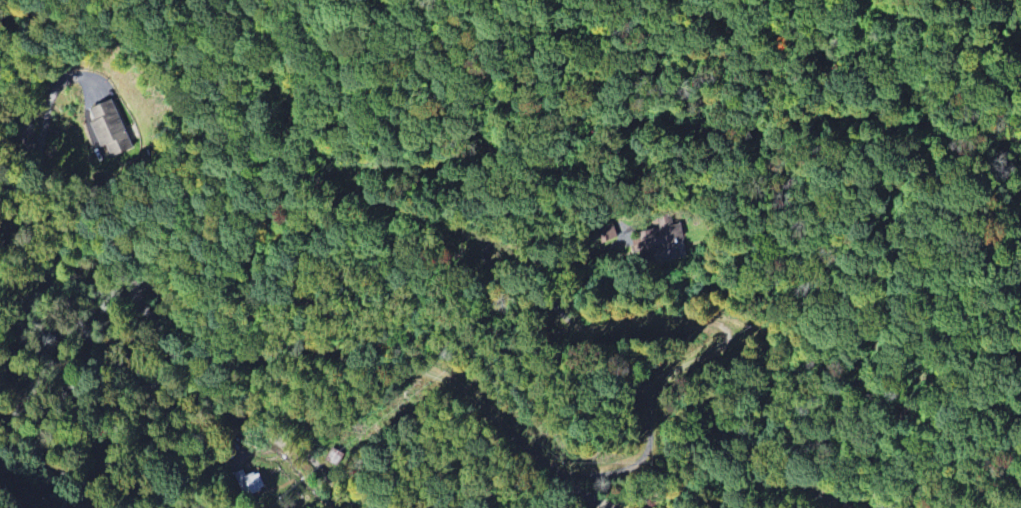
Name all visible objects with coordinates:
building: (108, 128)
road: (29, 212)
building: (606, 233)
road: (130, 292)
road: (591, 475)
building: (249, 482)
road: (21, 492)

